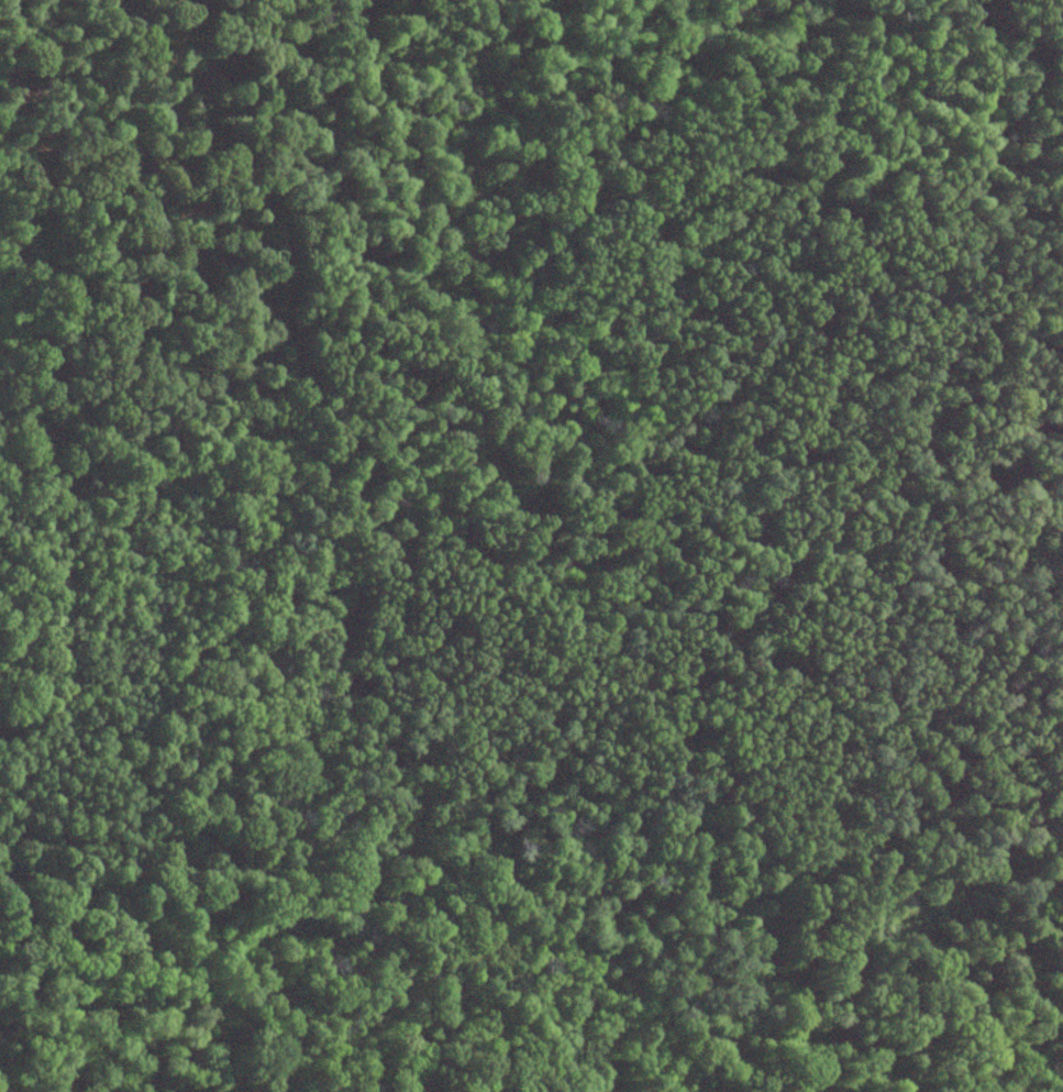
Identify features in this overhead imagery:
road: (1001, 289)

